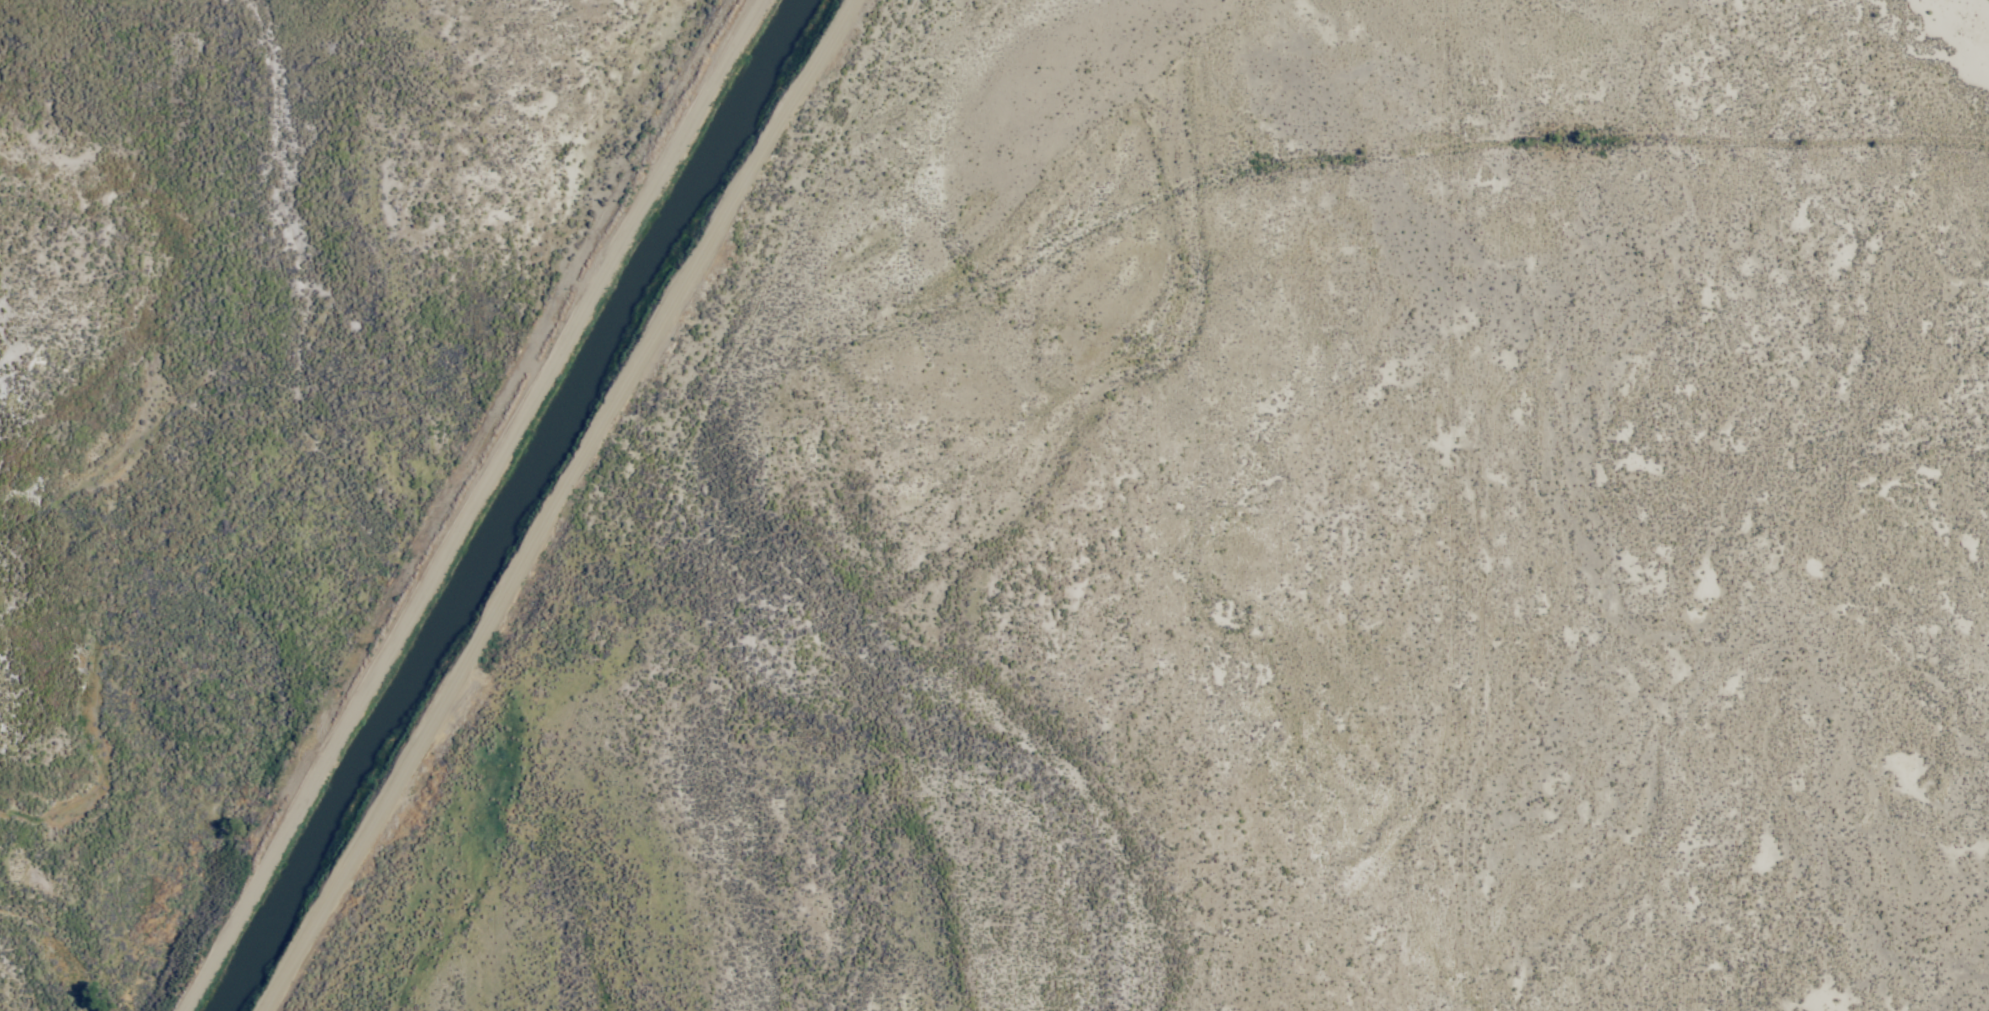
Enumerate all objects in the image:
road: (482, 505)
road: (559, 505)

